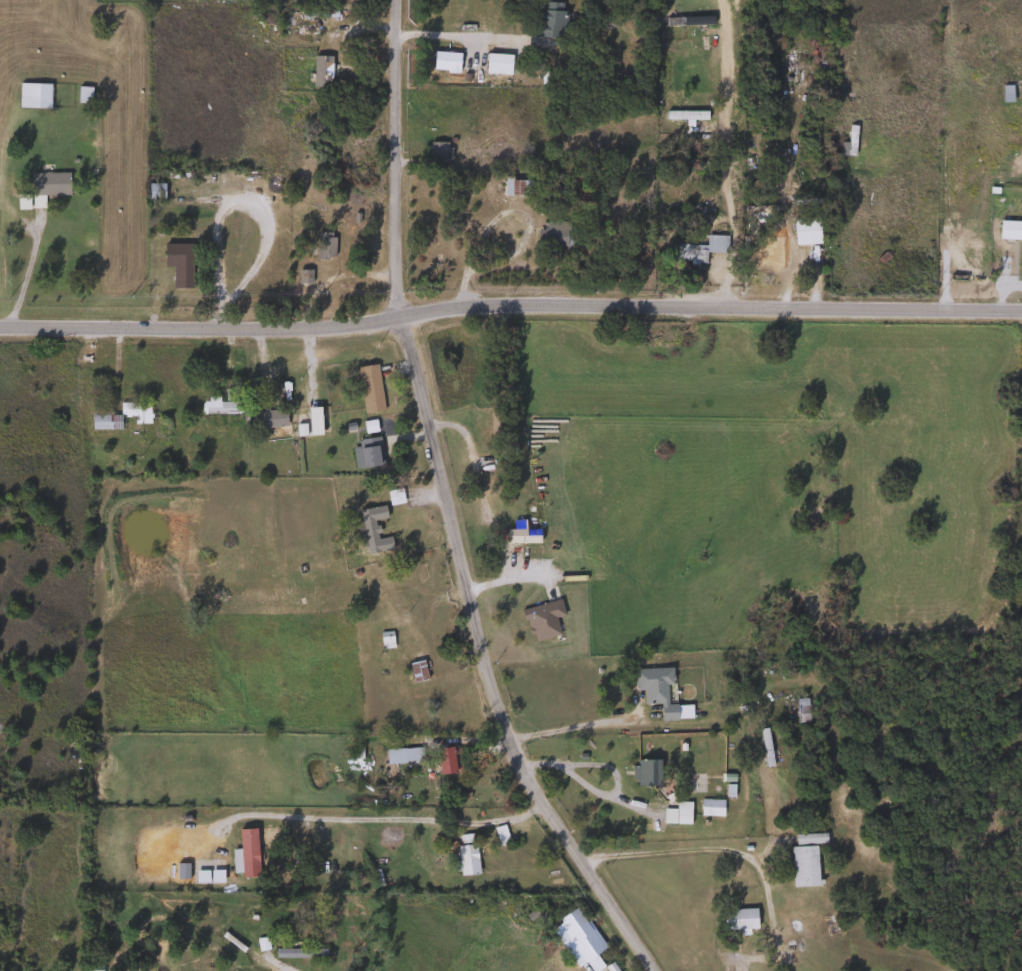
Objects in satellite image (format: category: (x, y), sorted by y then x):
building: (547, 21)
building: (686, 22)
road: (459, 36)
building: (981, 44)
building: (495, 64)
building: (320, 72)
building: (32, 91)
building: (1010, 93)
building: (848, 140)
road: (722, 153)
building: (435, 156)
building: (952, 168)
building: (46, 186)
building: (517, 187)
building: (154, 192)
building: (20, 202)
road: (256, 208)
building: (804, 231)
building: (1009, 231)
building: (553, 234)
building: (322, 245)
building: (697, 250)
building: (768, 252)
building: (177, 264)
road: (23, 270)
building: (303, 278)
road: (509, 300)
building: (368, 389)
building: (220, 407)
building: (134, 411)
building: (101, 419)
building: (269, 419)
road: (455, 436)
building: (366, 452)
road: (445, 508)
building: (370, 530)
building: (521, 534)
road: (504, 579)
building: (540, 620)
building: (384, 640)
building: (416, 671)
building: (654, 689)
building: (800, 710)
road: (570, 727)
building: (763, 737)
building: (402, 756)
building: (445, 761)
road: (564, 767)
building: (645, 773)
building: (710, 808)
building: (681, 813)
building: (495, 824)
road: (711, 845)
building: (465, 860)
building: (802, 863)
building: (737, 920)
building: (579, 934)
building: (297, 953)
road: (280, 966)

